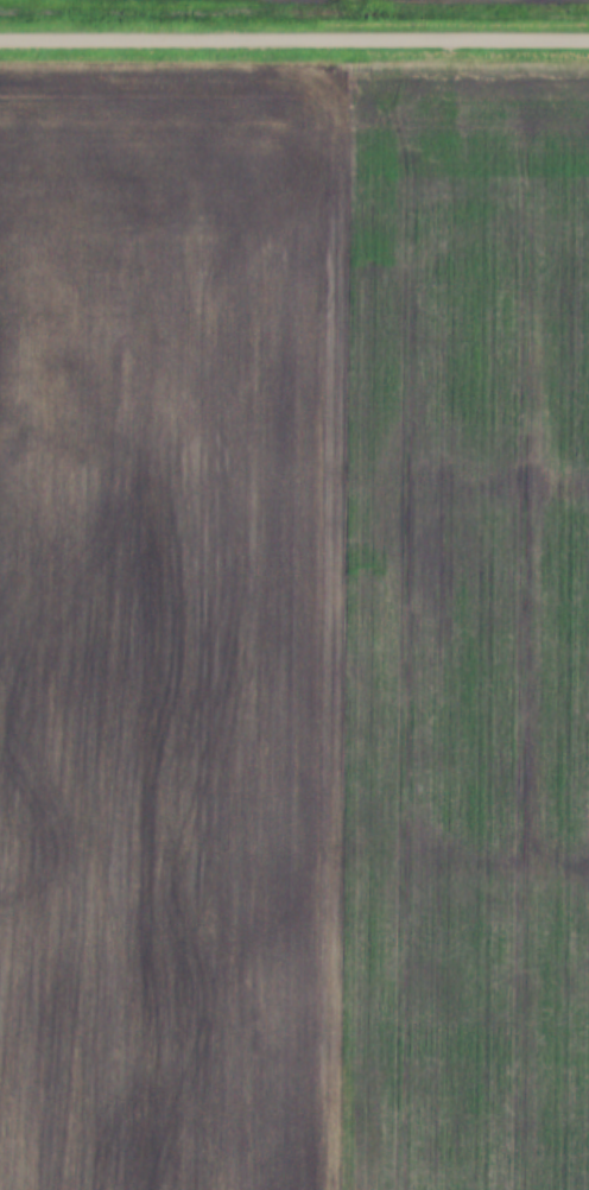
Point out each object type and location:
road: (294, 38)

